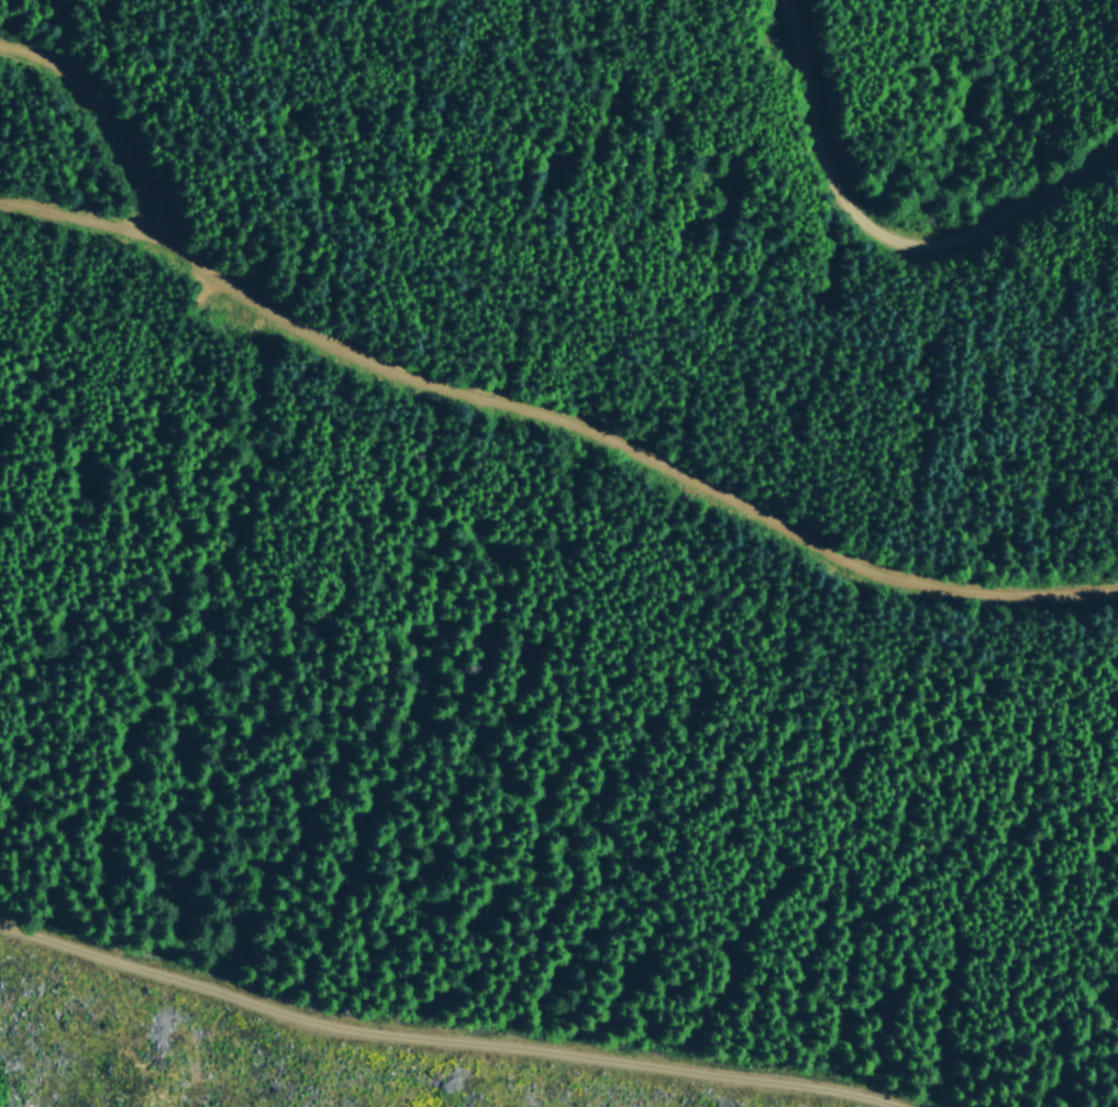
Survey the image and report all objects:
road: (108, 133)
road: (887, 232)
road: (553, 420)
road: (447, 1026)

